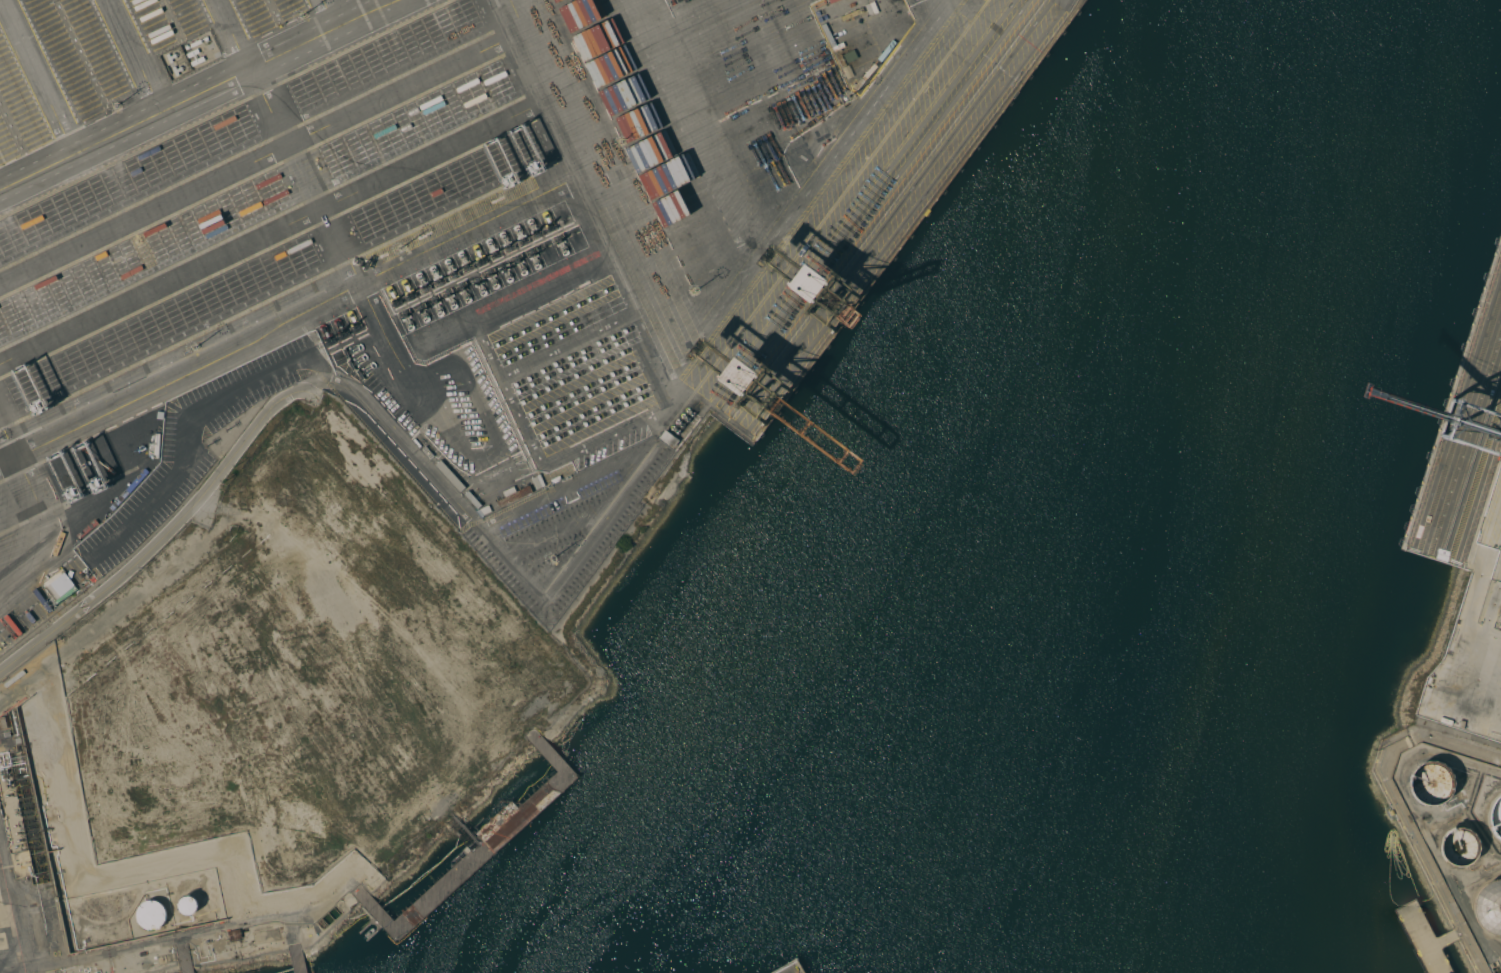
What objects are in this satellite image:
road: (199, 95)
road: (259, 156)
road: (300, 179)
road: (272, 223)
road: (374, 274)
road: (6, 443)
road: (28, 522)
road: (165, 531)
road: (14, 533)
building: (60, 585)
building: (518, 634)
building: (1451, 682)
building: (3, 723)
building: (7, 734)
road: (1496, 758)
building: (1432, 785)
storage tank: (1432, 785)
building: (1495, 819)
storage tank: (1495, 819)
building: (415, 841)
building: (1458, 849)
storage tank: (1458, 849)
building: (188, 904)
storage tank: (188, 904)
building: (1489, 909)
storage tank: (1489, 909)
storage tank: (151, 914)
building: (150, 915)
building: (235, 934)

